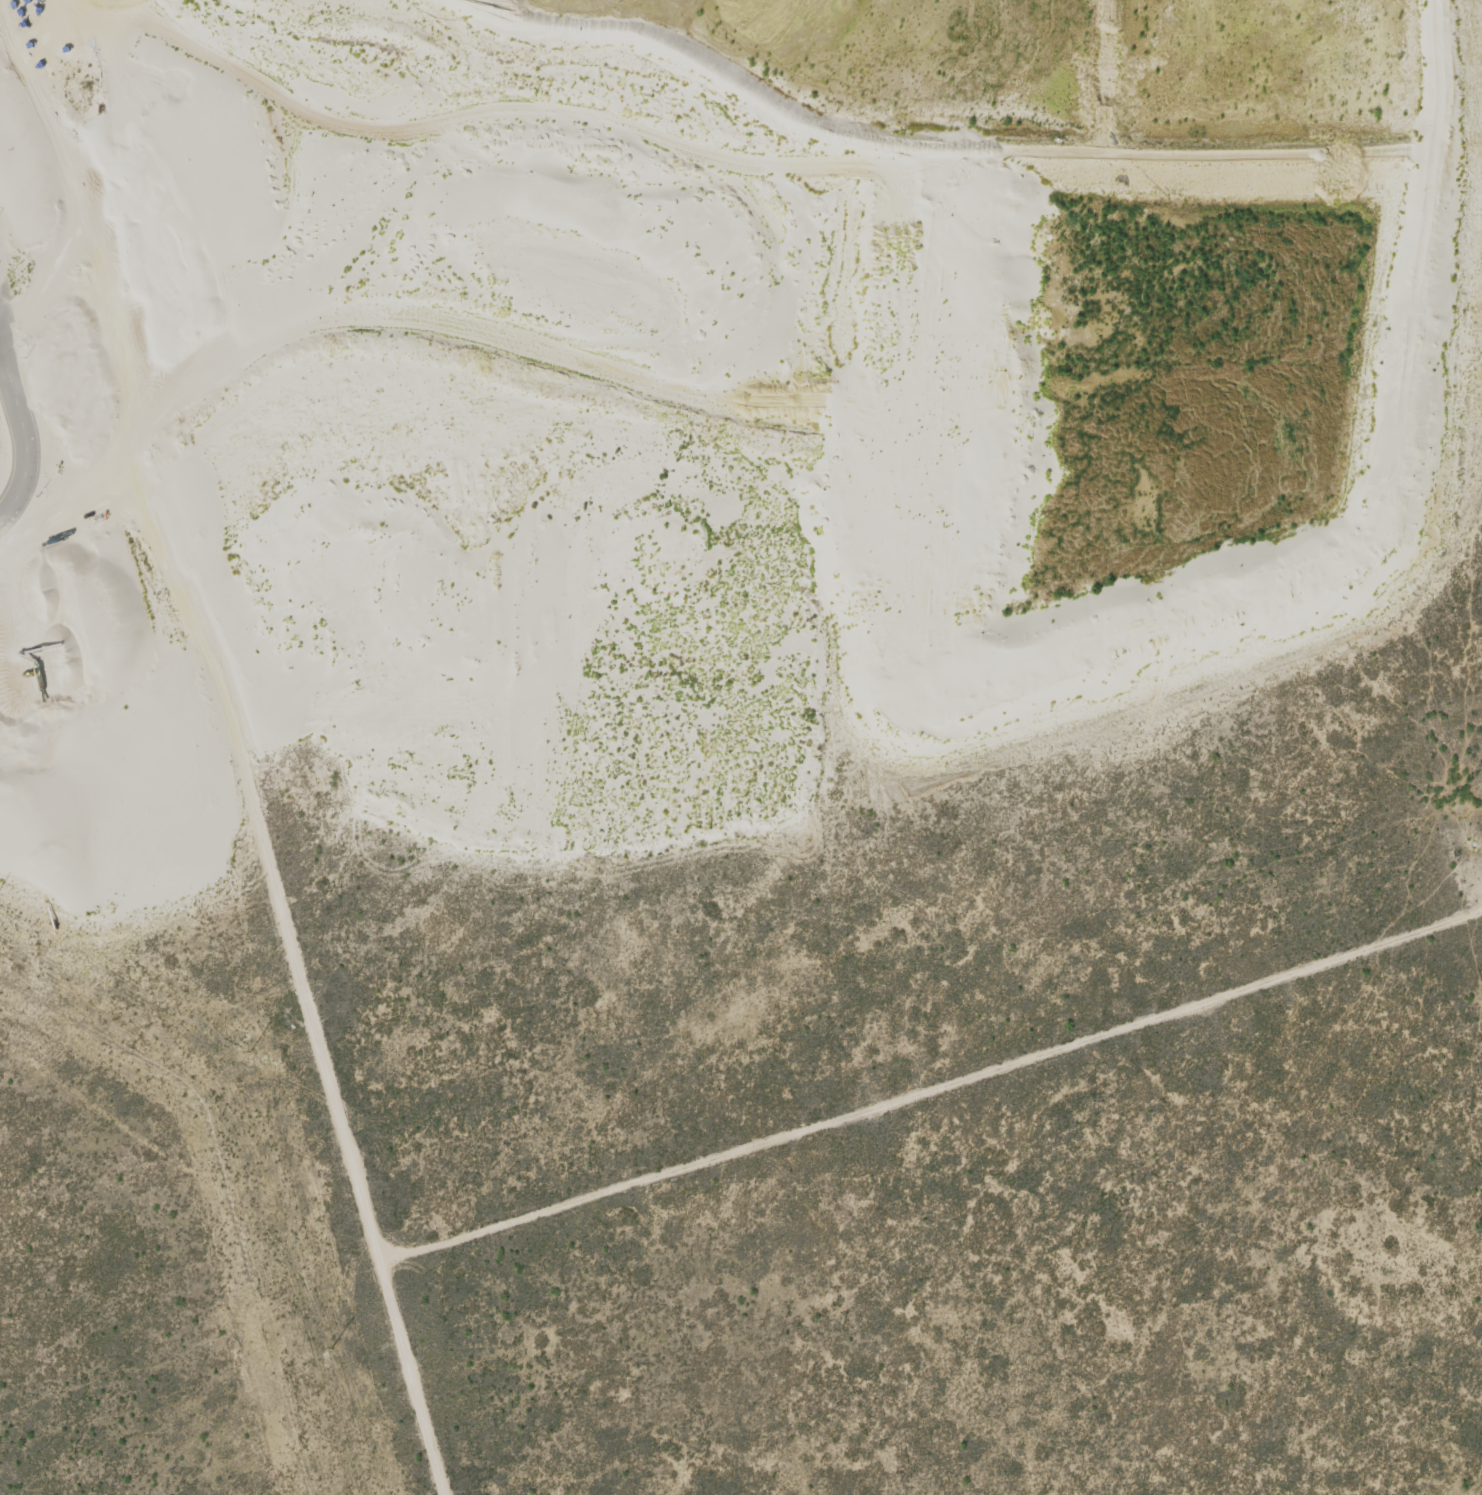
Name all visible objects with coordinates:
road: (251, 747)
power tower: (249, 1052)
power tower: (331, 1350)

